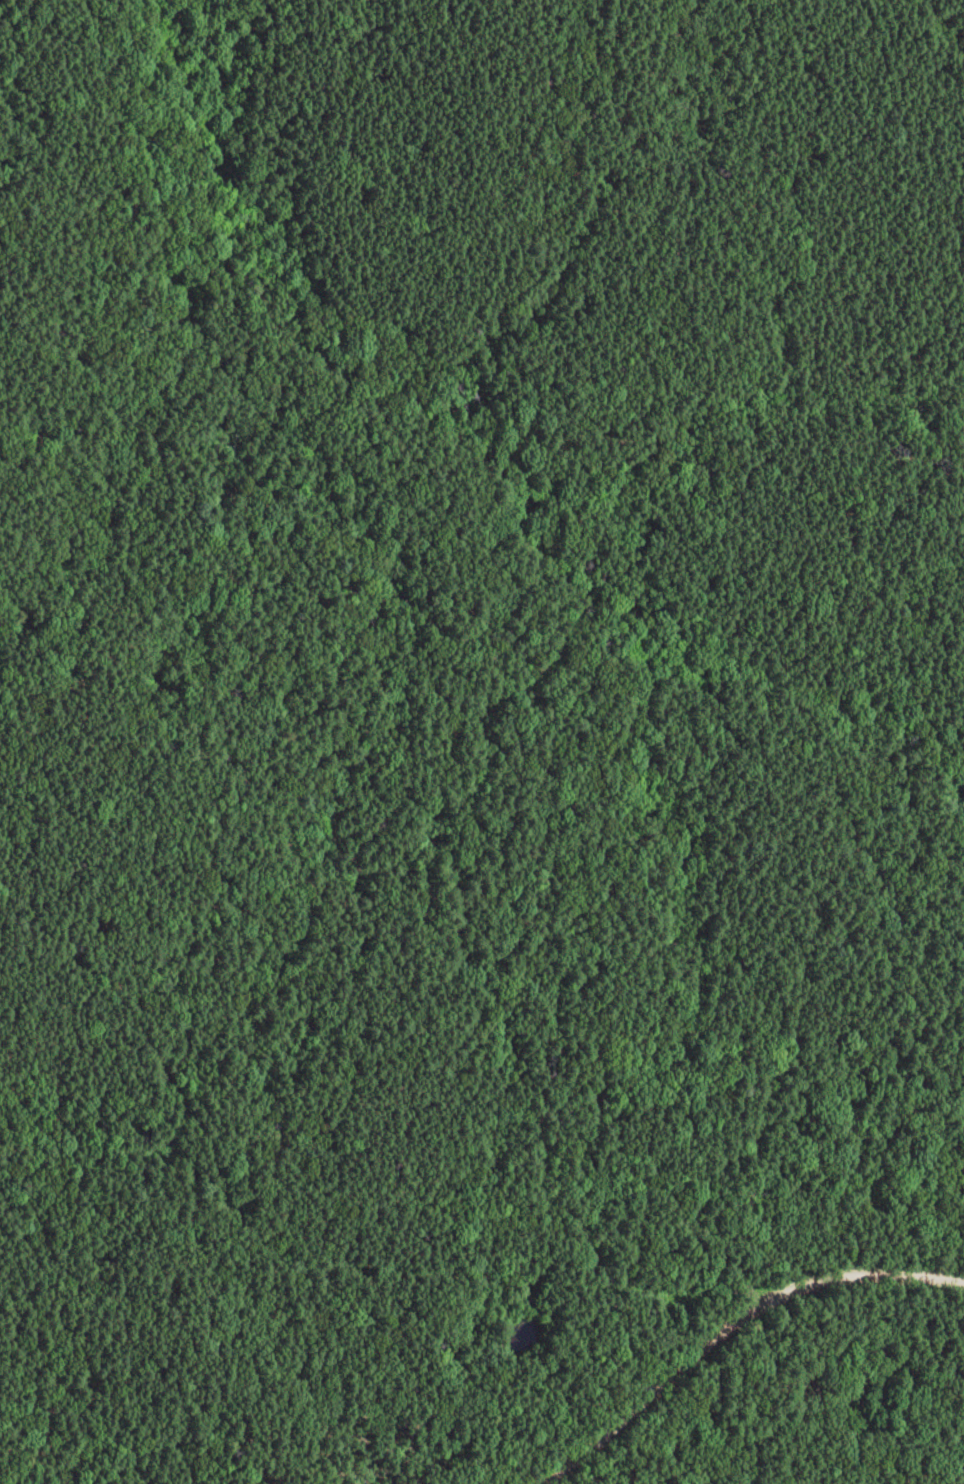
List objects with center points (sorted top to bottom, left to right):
road: (742, 1338)

